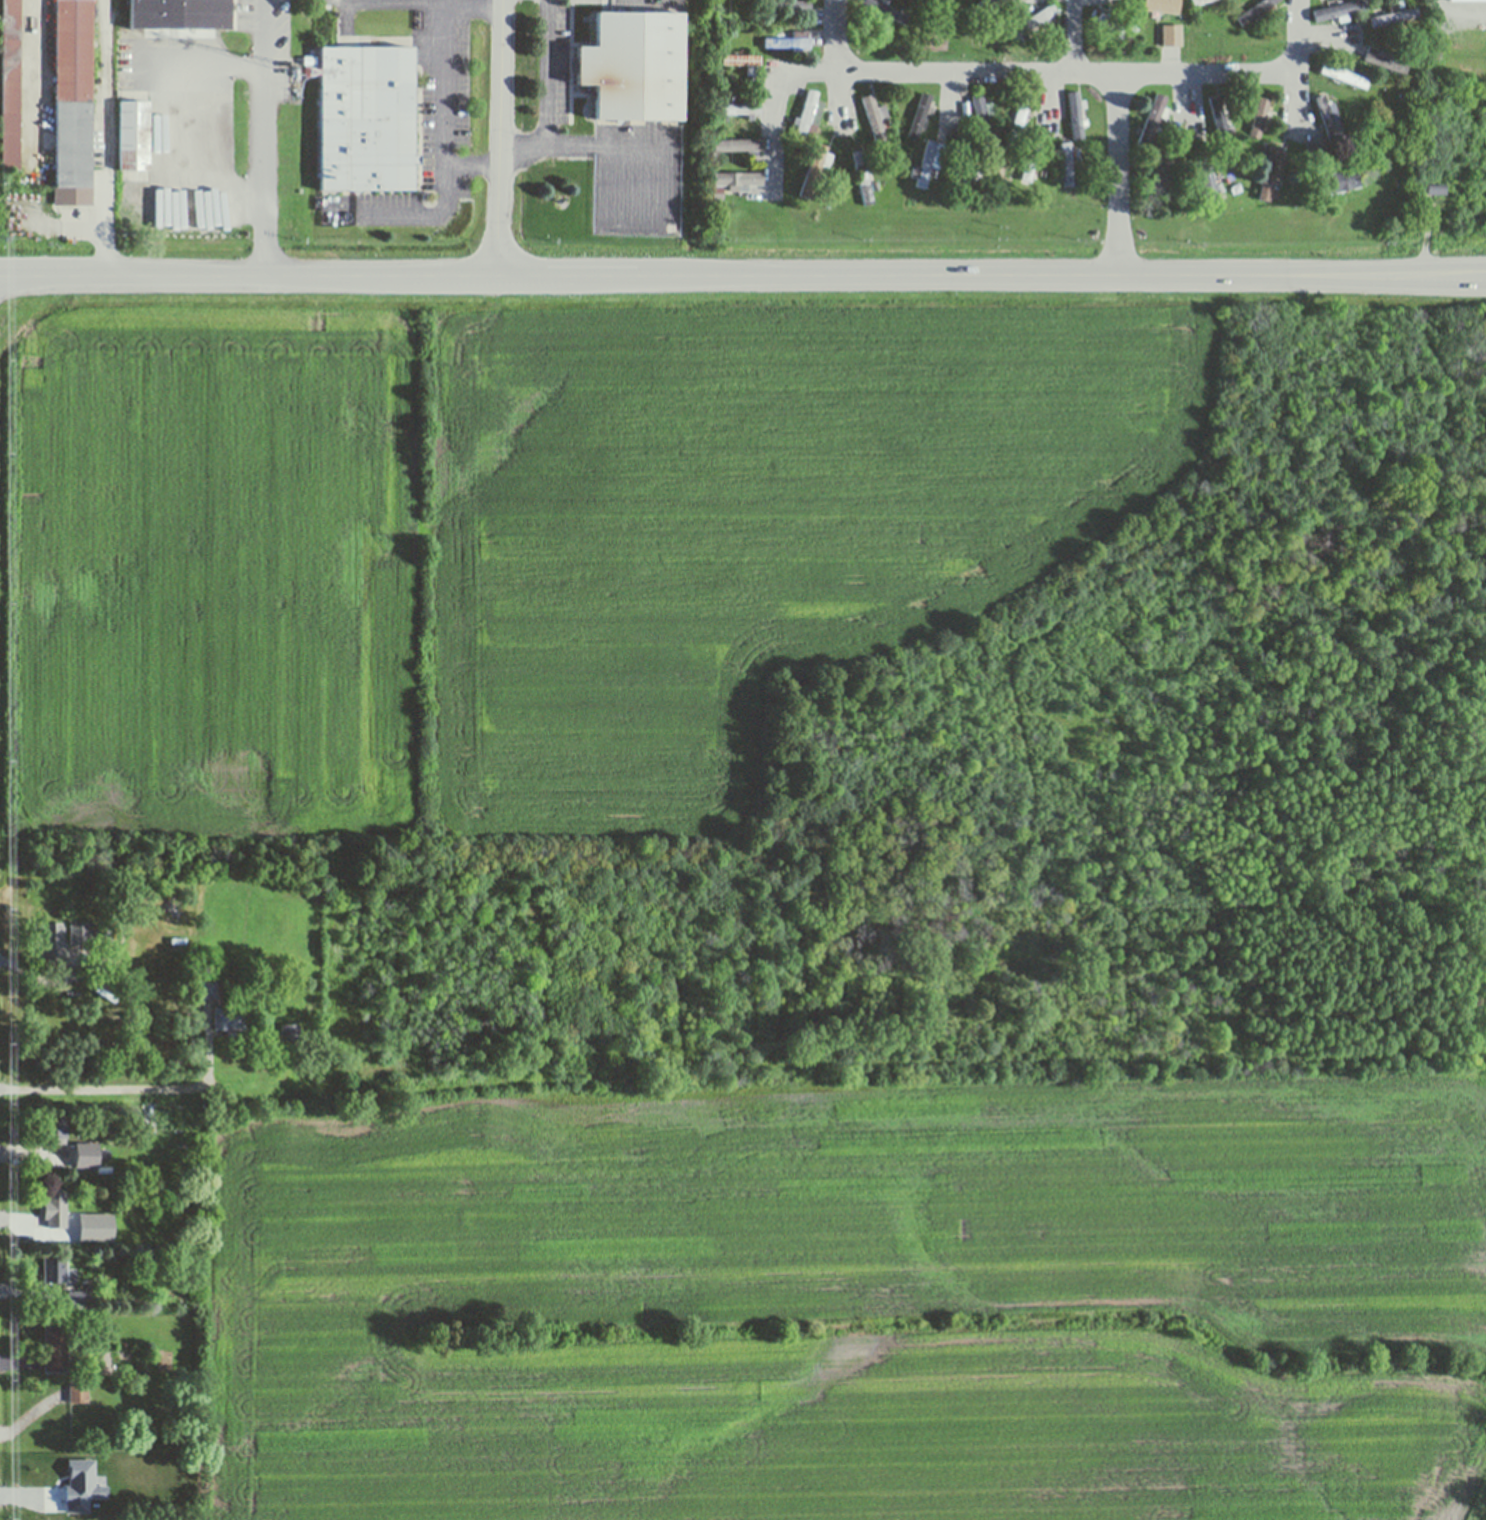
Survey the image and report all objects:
building: (933, 3)
building: (1468, 3)
building: (1206, 4)
building: (1162, 8)
building: (887, 10)
building: (788, 11)
building: (991, 12)
building: (180, 13)
building: (1258, 15)
building: (1340, 16)
building: (1393, 18)
building: (1393, 24)
building: (1034, 25)
building: (1113, 31)
building: (1134, 31)
road: (1321, 34)
road: (1068, 38)
building: (1172, 40)
building: (789, 46)
building: (72, 49)
building: (883, 52)
building: (1394, 54)
building: (1383, 60)
road: (1298, 63)
road: (836, 65)
building: (742, 66)
building: (1383, 68)
road: (977, 75)
building: (1343, 75)
building: (634, 82)
building: (1343, 82)
building: (754, 85)
road: (446, 86)
building: (9, 87)
road: (551, 90)
road: (108, 97)
road: (949, 98)
road: (1188, 99)
building: (1402, 102)
building: (736, 114)
building: (809, 117)
building: (983, 120)
building: (920, 121)
building: (1076, 121)
building: (369, 123)
building: (876, 125)
building: (928, 126)
building: (1153, 126)
building: (1219, 126)
building: (1255, 126)
building: (1326, 126)
building: (1019, 127)
road: (265, 136)
road: (502, 136)
building: (134, 137)
building: (738, 150)
building: (72, 154)
building: (1262, 156)
road: (221, 160)
building: (1317, 160)
building: (928, 167)
building: (1031, 168)
building: (1069, 168)
building: (964, 170)
building: (815, 175)
road: (1119, 179)
building: (978, 180)
building: (1271, 180)
building: (862, 182)
building: (1165, 183)
building: (1206, 183)
building: (734, 186)
building: (1434, 189)
building: (1336, 190)
building: (1435, 196)
road: (743, 274)
building: (84, 933)
building: (52, 940)
building: (207, 988)
building: (229, 1017)
building: (289, 1030)
building: (54, 1130)
building: (82, 1157)
building: (55, 1209)
building: (82, 1231)
building: (92, 1231)
building: (144, 1255)
building: (57, 1269)
building: (76, 1298)
building: (55, 1346)
building: (78, 1393)
building: (100, 1402)
building: (135, 1410)
building: (84, 1485)

